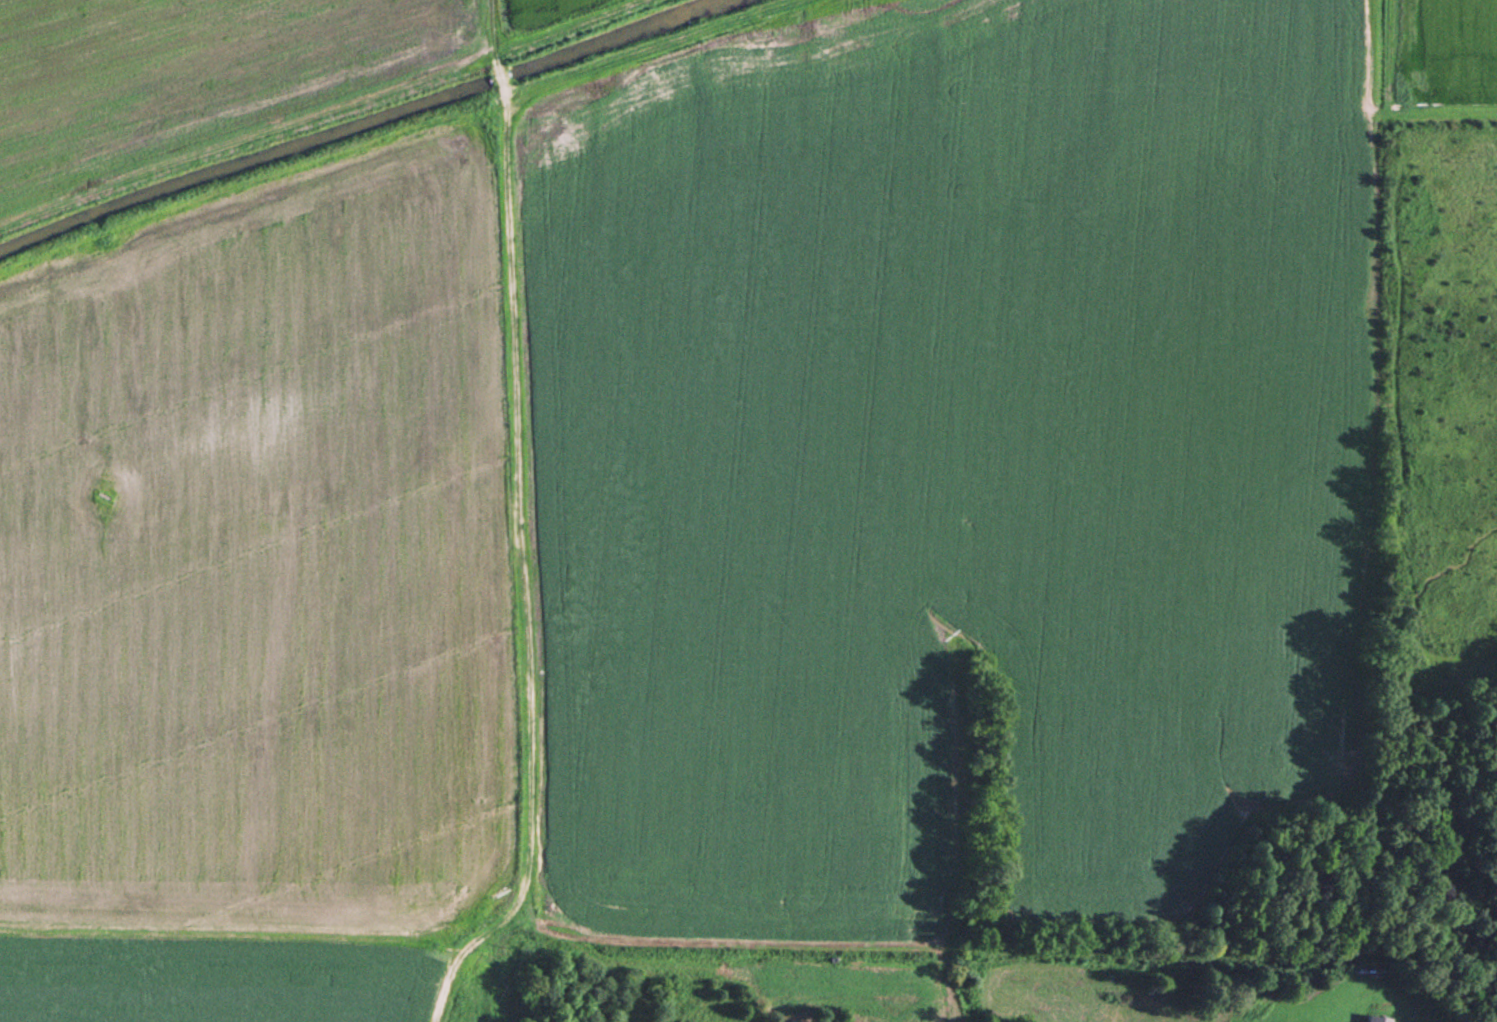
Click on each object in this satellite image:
road: (1355, 946)

